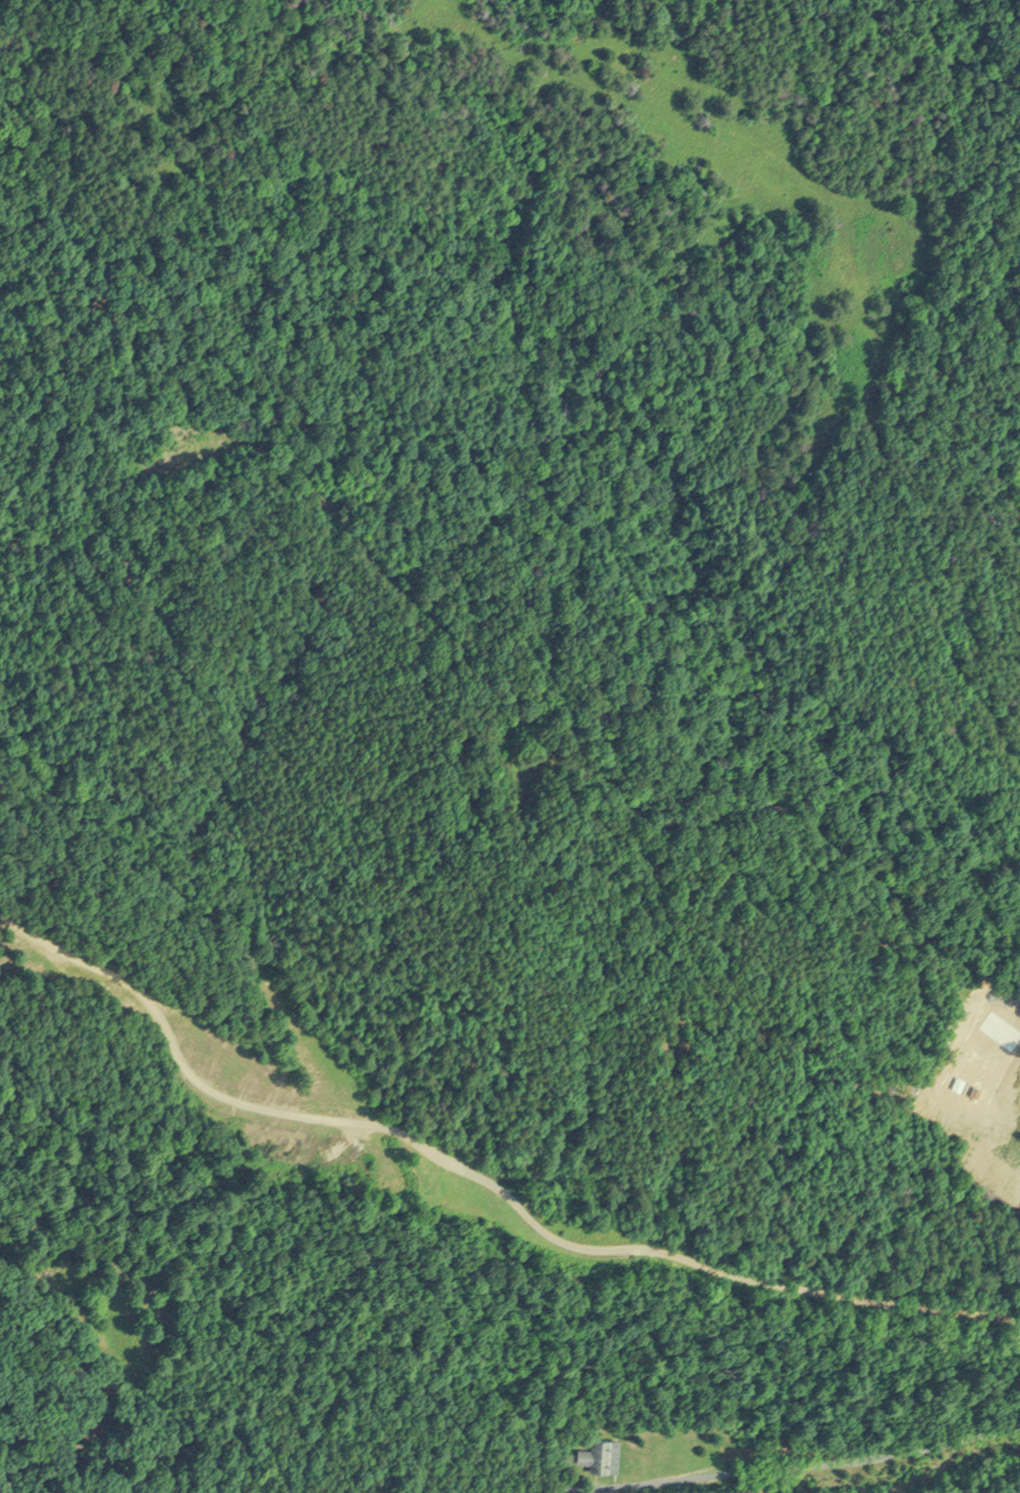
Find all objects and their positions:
road: (584, 760)
road: (482, 1182)
building: (596, 1453)
road: (813, 1466)

